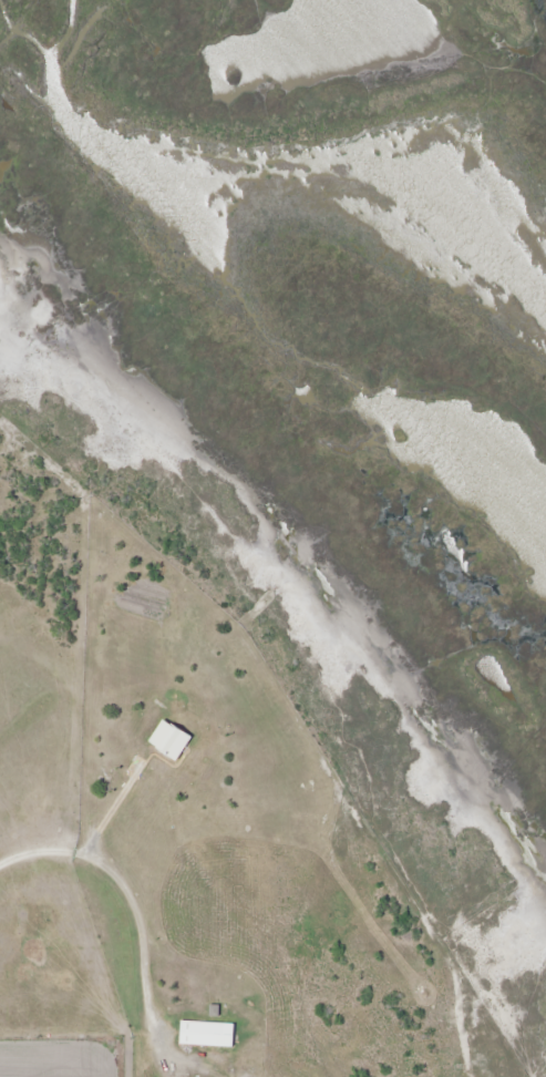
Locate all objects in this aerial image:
building: (173, 739)
road: (125, 897)
building: (208, 1034)

